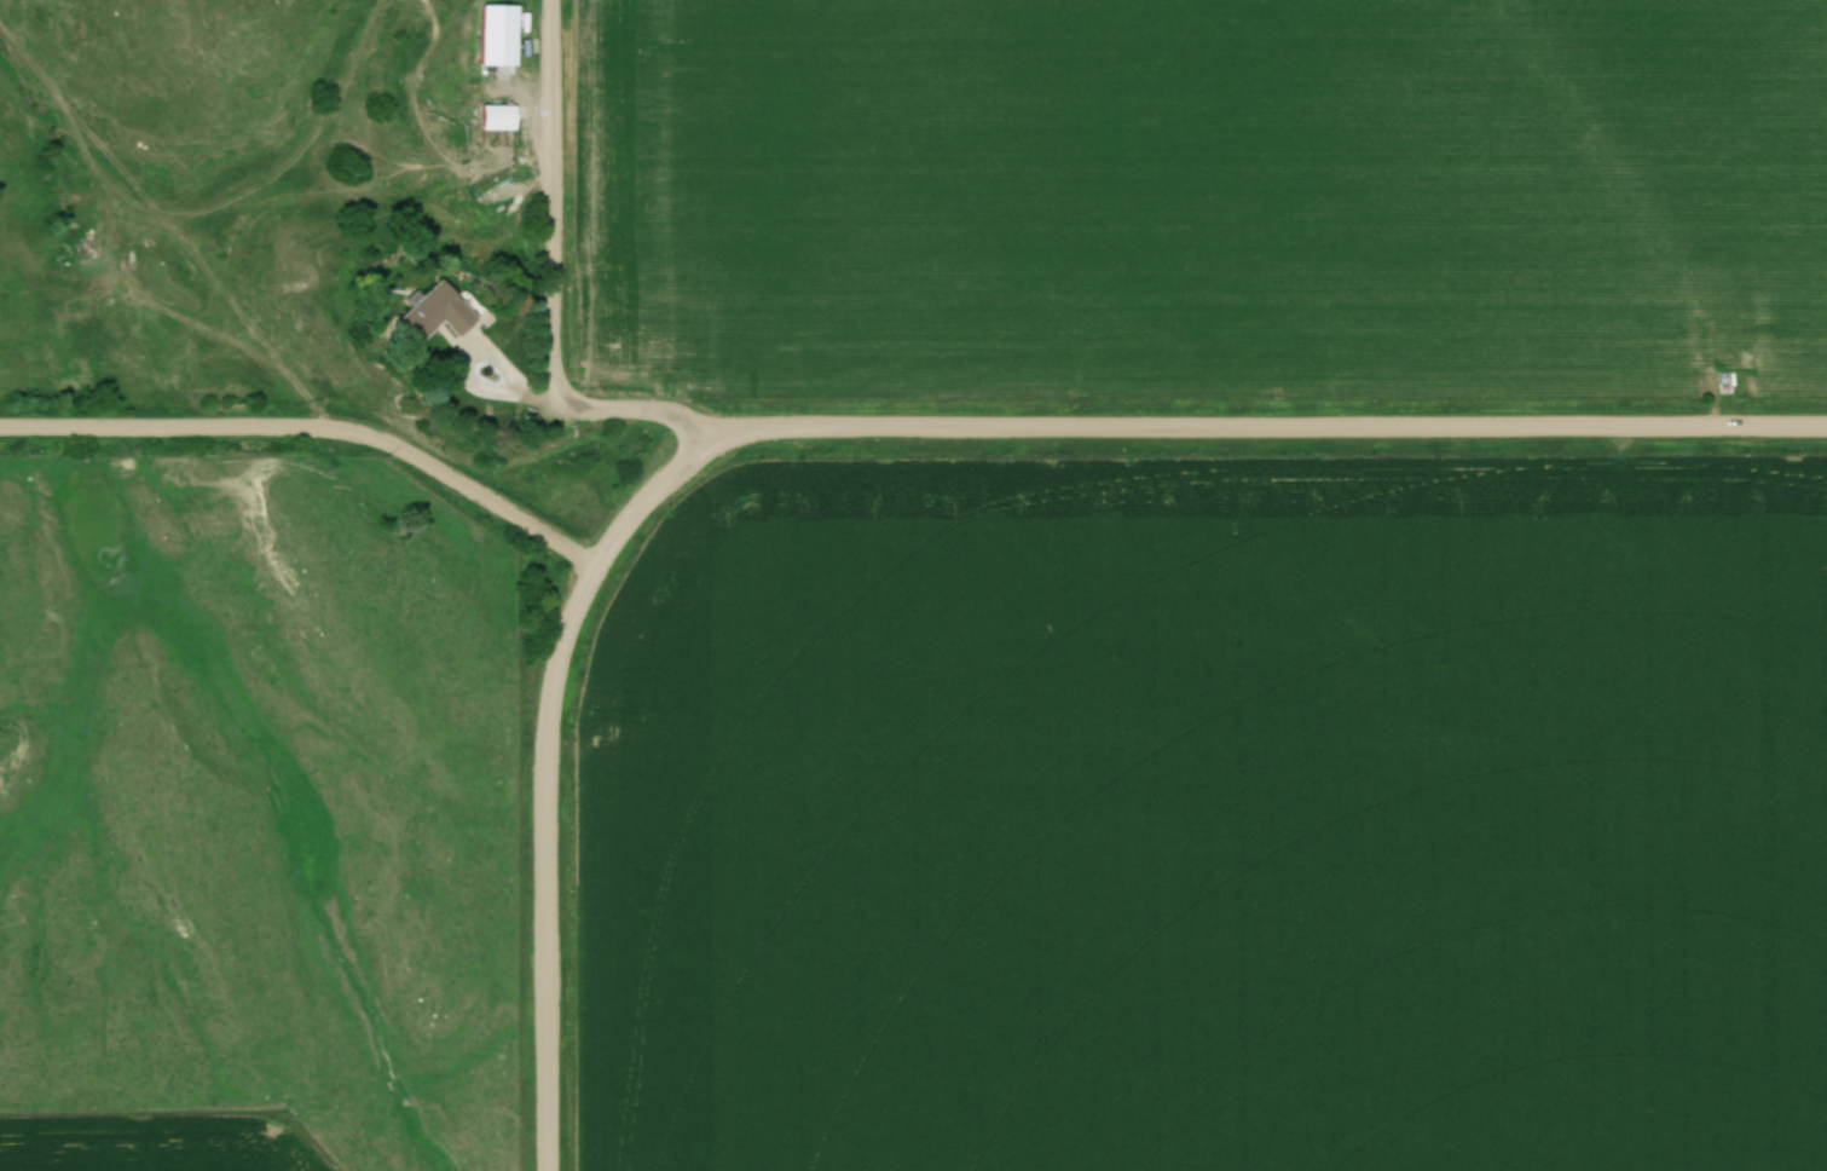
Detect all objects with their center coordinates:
building: (502, 119)
road: (549, 201)
building: (439, 315)
road: (468, 370)
road: (540, 398)
road: (1270, 429)
road: (317, 432)
road: (553, 697)

